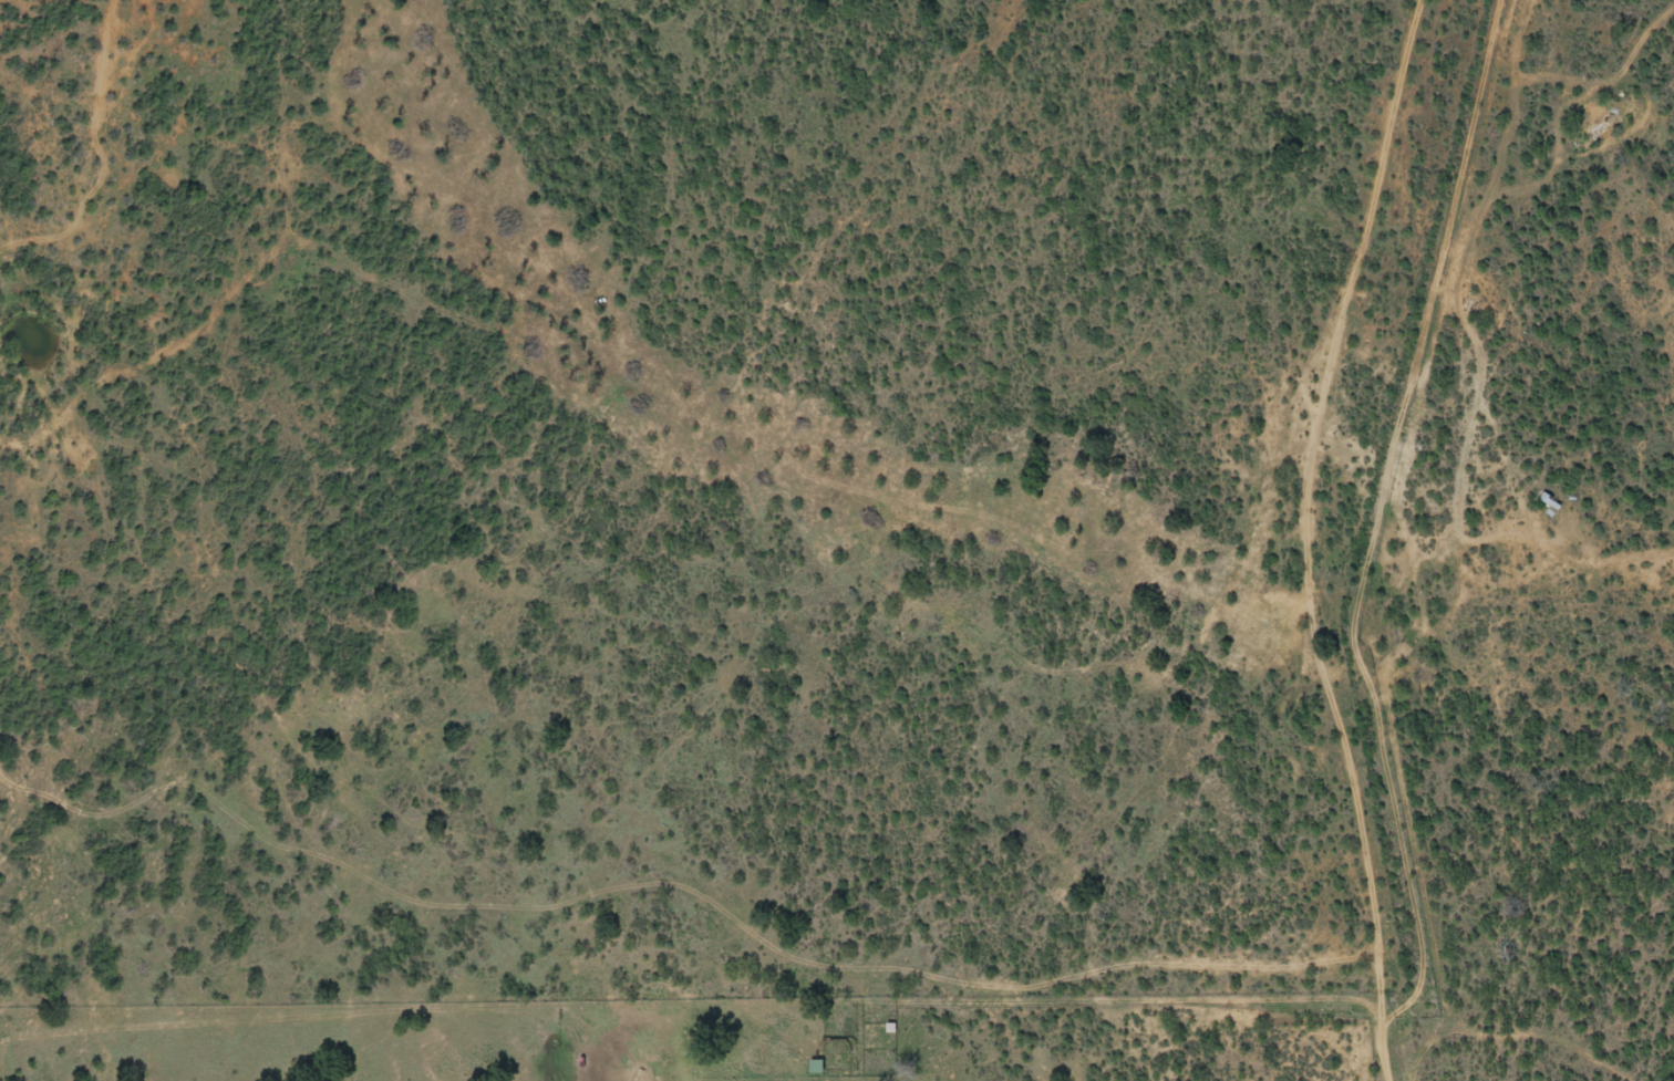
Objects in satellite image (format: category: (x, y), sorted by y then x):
road: (985, 725)
building: (821, 1068)

